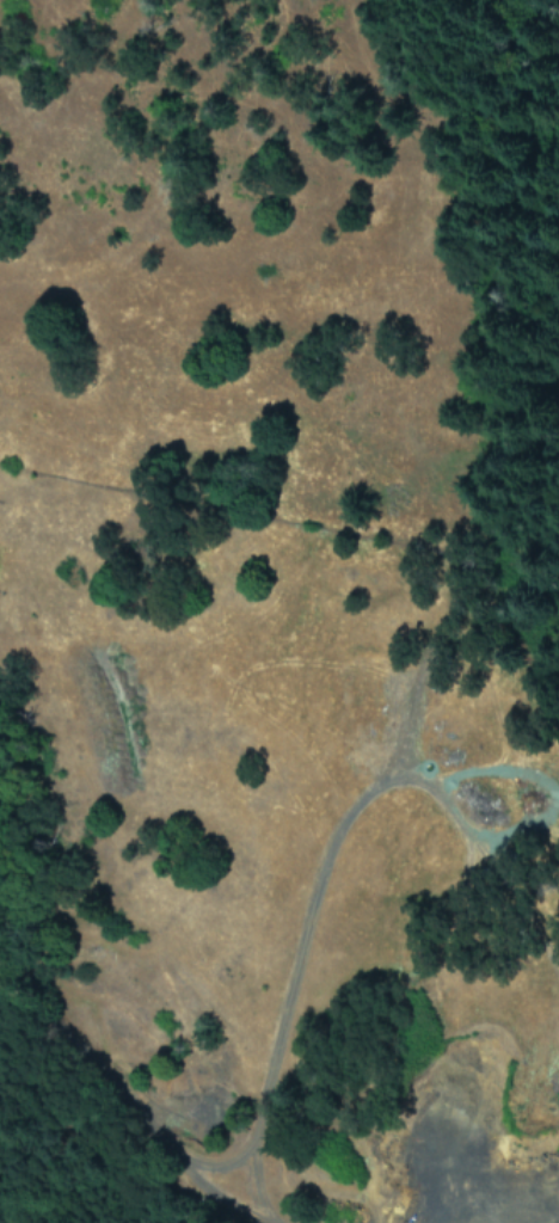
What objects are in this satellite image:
road: (133, 1119)

